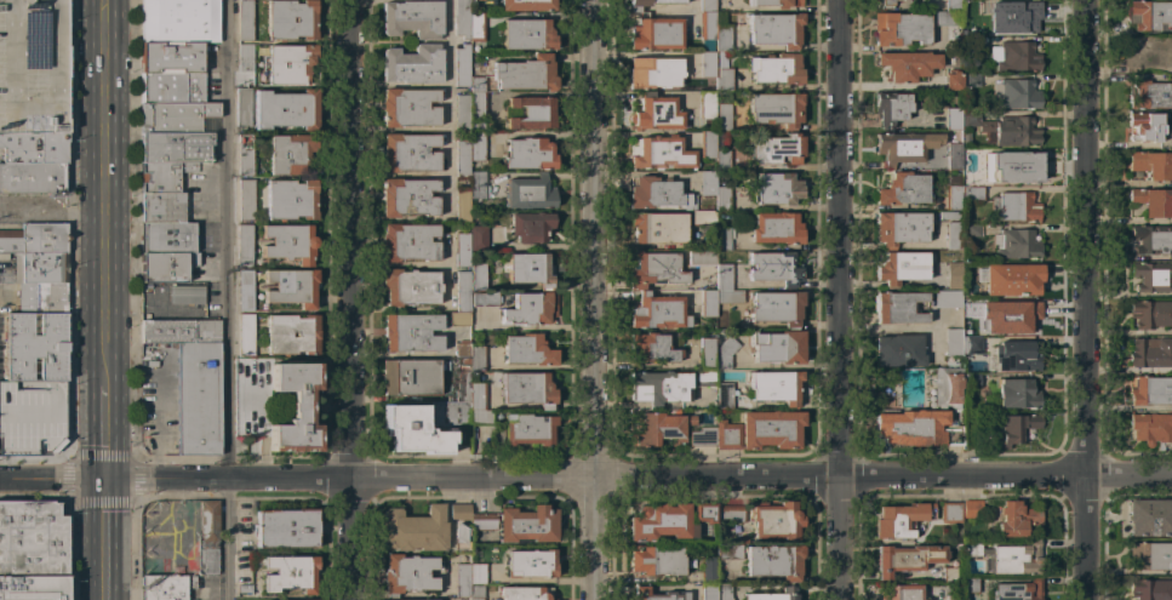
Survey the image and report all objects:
building: (476, 0)
building: (901, 0)
building: (776, 2)
building: (648, 4)
building: (885, 4)
building: (953, 4)
building: (526, 5)
building: (707, 6)
building: (1150, 16)
building: (412, 18)
building: (461, 18)
building: (948, 18)
building: (1013, 18)
building: (245, 19)
building: (291, 19)
building: (179, 21)
building: (970, 27)
building: (899, 28)
building: (774, 29)
building: (707, 30)
building: (476, 32)
building: (654, 33)
building: (527, 34)
road: (52, 35)
building: (721, 38)
building: (973, 42)
building: (1150, 52)
building: (1014, 56)
building: (171, 57)
building: (245, 57)
building: (707, 63)
building: (290, 64)
building: (412, 64)
building: (907, 64)
building: (33, 65)
building: (462, 65)
building: (776, 68)
building: (965, 69)
parking lot: (27, 70)
building: (653, 72)
building: (722, 73)
building: (525, 74)
building: (971, 80)
building: (953, 81)
building: (172, 87)
building: (1016, 93)
building: (1149, 95)
road: (11, 96)
building: (476, 98)
building: (705, 104)
building: (242, 105)
building: (408, 107)
building: (891, 107)
building: (286, 109)
building: (774, 109)
building: (462, 113)
building: (531, 113)
building: (656, 113)
building: (722, 116)
building: (177, 118)
building: (953, 118)
building: (970, 119)
building: (1145, 125)
building: (1011, 130)
building: (967, 137)
building: (707, 144)
building: (478, 145)
building: (175, 147)
building: (34, 148)
building: (899, 148)
building: (777, 149)
building: (408, 152)
building: (659, 153)
building: (290, 154)
building: (527, 154)
building: (245, 155)
building: (953, 155)
building: (462, 159)
building: (722, 160)
building: (1151, 164)
building: (1014, 166)
building: (162, 176)
building: (32, 177)
building: (707, 183)
building: (478, 185)
building: (777, 188)
building: (902, 189)
road: (104, 190)
building: (530, 193)
building: (973, 193)
building: (657, 194)
building: (408, 196)
building: (722, 198)
building: (953, 198)
building: (291, 199)
building: (246, 200)
building: (1154, 201)
building: (462, 205)
building: (1014, 206)
building: (161, 207)
road: (52, 208)
building: (948, 216)
building: (702, 217)
building: (531, 227)
building: (657, 227)
building: (776, 228)
building: (901, 228)
building: (972, 229)
building: (953, 235)
building: (166, 238)
building: (478, 238)
building: (724, 238)
building: (34, 239)
road: (601, 239)
road: (1087, 239)
building: (1151, 239)
building: (288, 242)
building: (410, 242)
building: (1016, 244)
building: (244, 245)
building: (461, 248)
building: (702, 257)
building: (165, 267)
building: (901, 267)
building: (41, 268)
building: (773, 268)
building: (530, 269)
building: (654, 269)
building: (1153, 275)
building: (478, 276)
building: (722, 276)
building: (954, 276)
building: (1011, 279)
building: (291, 287)
building: (408, 287)
building: (710, 287)
building: (245, 291)
building: (462, 291)
building: (184, 293)
building: (728, 296)
building: (41, 297)
building: (948, 298)
road: (230, 299)
road: (359, 299)
building: (485, 299)
road: (840, 299)
building: (708, 303)
building: (976, 305)
building: (898, 307)
building: (776, 308)
building: (530, 309)
building: (657, 312)
building: (1150, 314)
building: (459, 318)
building: (1017, 319)
building: (179, 331)
building: (410, 333)
building: (246, 335)
building: (291, 335)
building: (953, 343)
building: (972, 345)
building: (35, 347)
building: (652, 347)
building: (777, 347)
building: (461, 348)
building: (527, 350)
building: (898, 350)
building: (704, 353)
building: (724, 353)
building: (1150, 353)
building: (1016, 356)
building: (476, 358)
building: (463, 360)
building: (408, 377)
building: (703, 378)
building: (972, 381)
building: (774, 385)
building: (462, 387)
building: (948, 387)
building: (658, 388)
building: (527, 389)
building: (1151, 390)
building: (1014, 394)
building: (724, 395)
building: (476, 396)
building: (198, 399)
building: (247, 400)
building: (295, 407)
building: (28, 416)
parking lot: (28, 416)
building: (481, 417)
building: (451, 418)
road: (156, 422)
building: (915, 428)
building: (1151, 428)
building: (528, 429)
building: (662, 429)
building: (1013, 429)
road: (108, 430)
building: (413, 430)
building: (760, 430)
building: (703, 436)
road: (585, 478)
traffic signals: (109, 479)
building: (971, 509)
building: (459, 512)
building: (704, 512)
building: (951, 512)
building: (731, 514)
building: (1149, 516)
building: (901, 519)
building: (1016, 519)
building: (774, 520)
building: (482, 521)
building: (661, 522)
building: (527, 524)
building: (286, 528)
building: (413, 530)
building: (32, 538)
building: (200, 538)
road: (1090, 538)
road: (109, 539)
building: (461, 539)
road: (604, 539)
building: (742, 539)
building: (972, 548)
building: (728, 552)
building: (1150, 556)
building: (907, 558)
building: (1018, 559)
building: (654, 560)
building: (774, 561)
building: (531, 564)
building: (709, 570)
building: (290, 573)
building: (407, 573)
building: (476, 573)
building: (951, 575)
building: (461, 579)
building: (970, 585)
building: (164, 587)
building: (33, 588)
building: (244, 588)
building: (1151, 589)
building: (1017, 590)
building: (708, 592)
building: (722, 592)
building: (901, 592)
building: (476, 593)
building: (526, 593)
building: (656, 594)
building: (774, 595)
building: (954, 596)
building: (419, 599)

